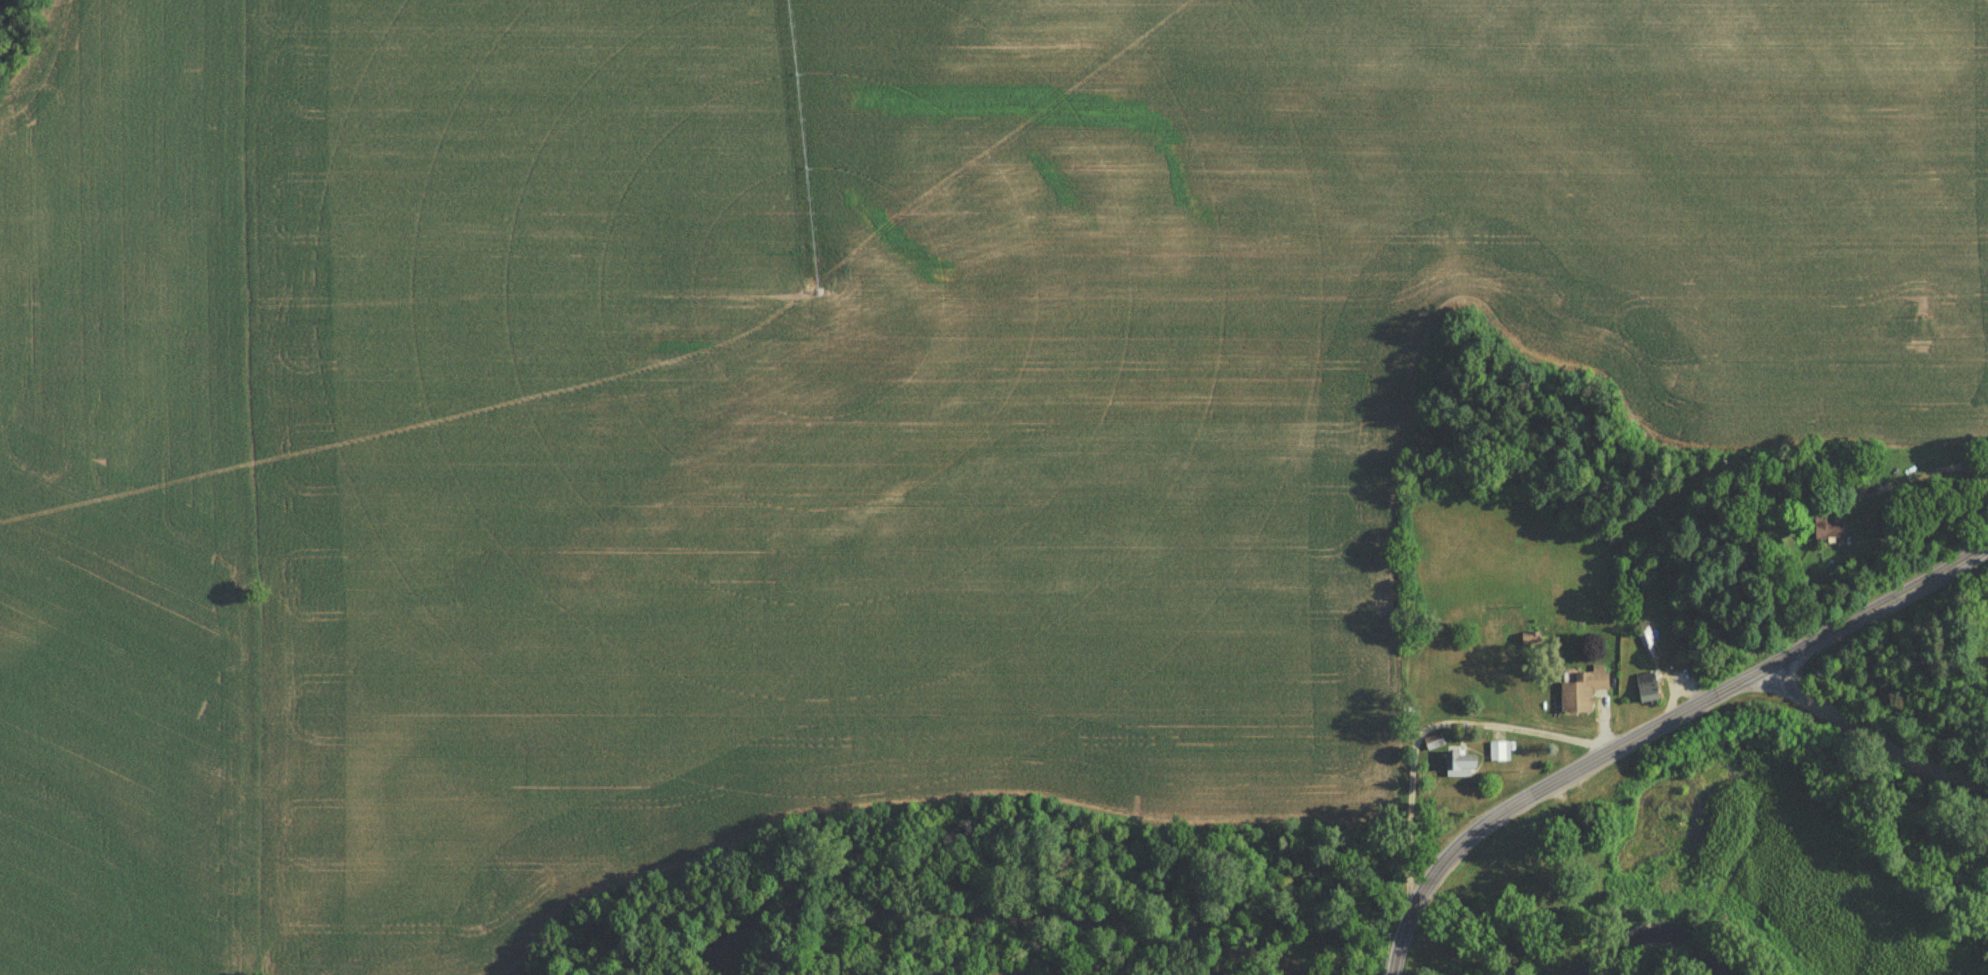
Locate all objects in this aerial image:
building: (1835, 470)
road: (1784, 481)
building: (1825, 525)
building: (1521, 578)
building: (1647, 643)
building: (1646, 688)
building: (1580, 691)
road: (1669, 717)
road: (1428, 725)
road: (1871, 739)
building: (1498, 751)
building: (1458, 764)
river: (1023, 913)
river: (1393, 944)
river: (1652, 944)
road: (1397, 958)
building: (1559, 962)
river: (1473, 964)

